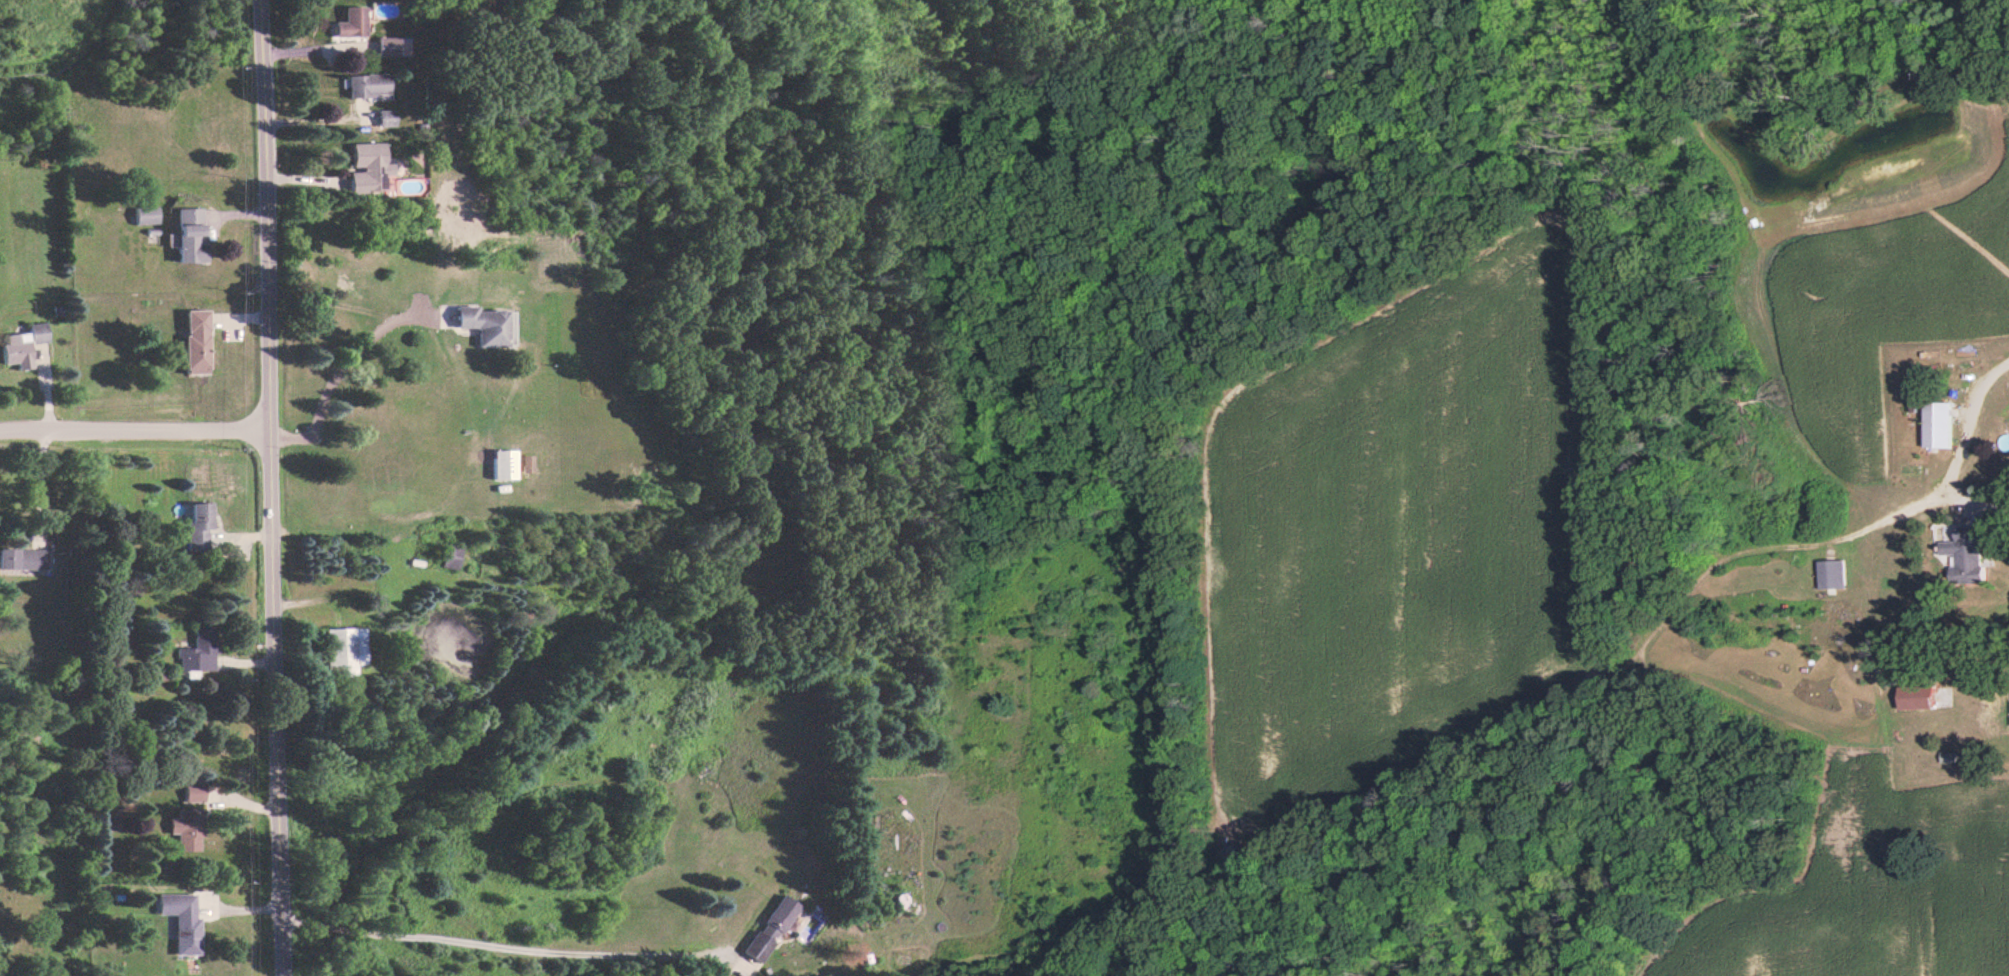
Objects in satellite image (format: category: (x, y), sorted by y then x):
building: (344, 22)
building: (380, 45)
road: (313, 49)
building: (359, 84)
building: (377, 118)
building: (358, 168)
building: (143, 214)
building: (184, 235)
building: (34, 332)
building: (191, 341)
building: (14, 350)
road: (336, 370)
building: (1936, 423)
road: (130, 429)
road: (1957, 448)
building: (498, 463)
building: (521, 463)
road: (40, 483)
road: (263, 488)
building: (194, 525)
building: (1965, 551)
building: (447, 556)
building: (20, 558)
building: (1830, 572)
building: (195, 650)
building: (340, 650)
building: (1916, 699)
building: (190, 791)
building: (182, 829)
crop: (1869, 887)
building: (177, 920)
building: (765, 928)
road: (495, 945)

